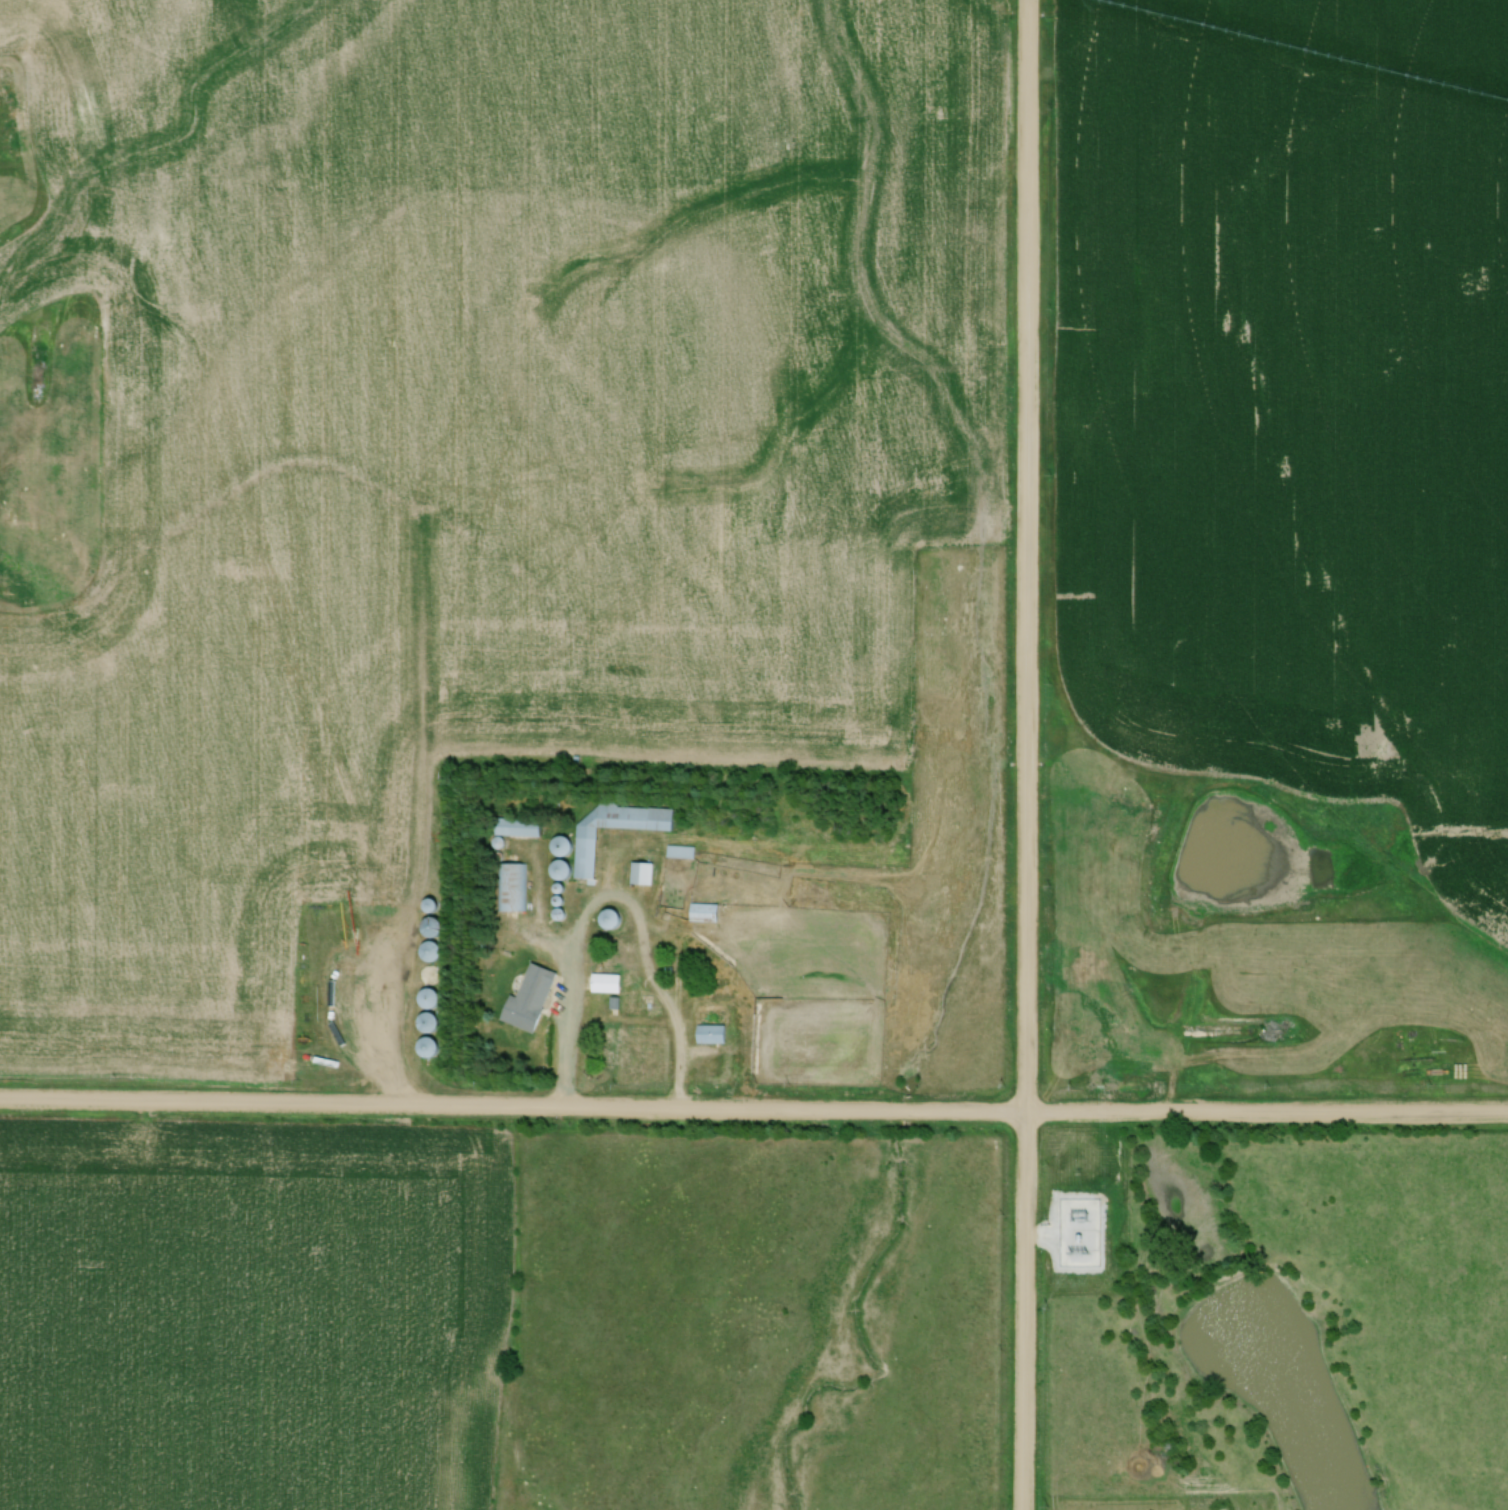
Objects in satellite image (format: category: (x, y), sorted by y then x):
road: (1030, 755)
building: (520, 826)
building: (579, 845)
building: (644, 872)
building: (514, 886)
road: (618, 895)
building: (707, 911)
building: (615, 918)
building: (435, 927)
building: (435, 950)
building: (609, 982)
building: (434, 996)
building: (531, 997)
building: (433, 1021)
building: (714, 1033)
building: (432, 1045)
road: (753, 1108)

